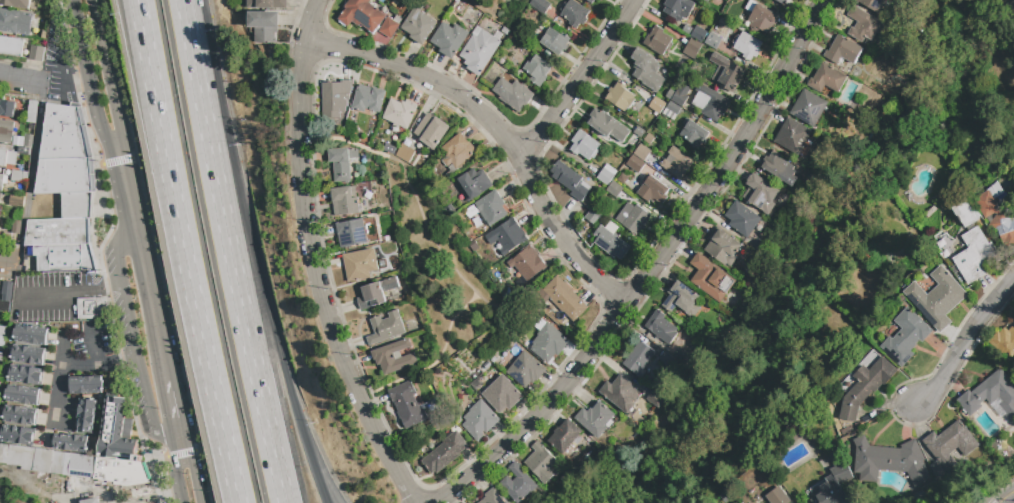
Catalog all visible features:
building: (705, 0)
building: (707, 0)
building: (589, 1)
building: (592, 1)
building: (781, 1)
building: (15, 4)
building: (266, 4)
building: (873, 4)
building: (539, 5)
building: (1013, 7)
building: (678, 9)
building: (574, 12)
building: (361, 14)
building: (762, 19)
building: (14, 22)
building: (418, 24)
building: (863, 24)
road: (187, 25)
building: (263, 27)
building: (388, 27)
road: (138, 28)
road: (141, 28)
building: (505, 31)
building: (698, 34)
building: (43, 35)
building: (449, 39)
building: (657, 40)
building: (554, 41)
building: (712, 41)
building: (747, 45)
building: (11, 46)
building: (692, 48)
building: (842, 50)
building: (479, 51)
building: (36, 53)
road: (61, 56)
building: (536, 69)
building: (647, 70)
building: (726, 71)
road: (106, 75)
road: (88, 77)
building: (829, 77)
road: (578, 78)
road: (17, 80)
building: (815, 85)
building: (513, 93)
building: (681, 93)
building: (620, 96)
building: (335, 98)
building: (368, 99)
building: (713, 103)
building: (657, 105)
building: (673, 107)
building: (808, 108)
building: (7, 109)
building: (32, 112)
building: (399, 113)
building: (607, 125)
building: (6, 131)
building: (431, 131)
road: (496, 131)
building: (638, 132)
building: (694, 133)
building: (62, 134)
building: (793, 135)
building: (648, 138)
building: (17, 141)
building: (27, 141)
building: (584, 145)
building: (387, 148)
building: (22, 151)
building: (642, 152)
building: (405, 153)
building: (456, 153)
building: (7, 158)
building: (342, 163)
building: (635, 163)
building: (677, 163)
building: (779, 167)
building: (606, 174)
building: (19, 176)
building: (63, 176)
building: (622, 179)
building: (570, 180)
building: (2, 181)
building: (474, 184)
building: (614, 189)
building: (652, 189)
building: (994, 189)
building: (761, 193)
building: (346, 201)
building: (76, 205)
building: (491, 208)
building: (449, 209)
building: (471, 212)
building: (965, 214)
building: (592, 216)
building: (633, 218)
building: (741, 218)
building: (997, 219)
building: (16, 227)
building: (359, 232)
building: (507, 236)
building: (611, 241)
building: (757, 244)
building: (62, 245)
building: (721, 247)
building: (975, 256)
road: (316, 259)
road: (4, 260)
road: (139, 261)
building: (362, 264)
building: (527, 264)
road: (652, 270)
road: (260, 276)
building: (707, 276)
road: (234, 277)
road: (190, 280)
road: (110, 285)
building: (6, 291)
road: (60, 292)
building: (378, 293)
building: (937, 298)
building: (565, 299)
building: (681, 299)
building: (4, 307)
building: (91, 308)
building: (660, 327)
building: (387, 328)
building: (3, 335)
building: (30, 335)
building: (905, 336)
road: (963, 340)
building: (1004, 341)
building: (548, 343)
road: (131, 345)
building: (28, 355)
building: (1, 356)
building: (395, 357)
building: (682, 357)
building: (638, 359)
building: (665, 359)
road: (97, 364)
building: (525, 370)
building: (26, 375)
road: (58, 383)
building: (86, 385)
building: (864, 387)
building: (620, 394)
building: (501, 395)
building: (990, 395)
building: (22, 396)
road: (168, 396)
building: (655, 399)
building: (408, 405)
building: (19, 415)
building: (86, 415)
building: (595, 419)
building: (479, 420)
building: (117, 431)
building: (17, 435)
road: (176, 436)
building: (564, 436)
building: (70, 443)
building: (950, 444)
building: (445, 453)
building: (17, 456)
building: (42, 461)
building: (889, 461)
building: (60, 463)
building: (541, 463)
building: (82, 466)
building: (937, 469)
building: (0, 470)
road: (193, 476)
road: (176, 478)
building: (834, 480)
building: (517, 484)
road: (328, 486)
building: (918, 495)
road: (1006, 495)
building: (776, 496)
building: (492, 497)
building: (91, 501)

